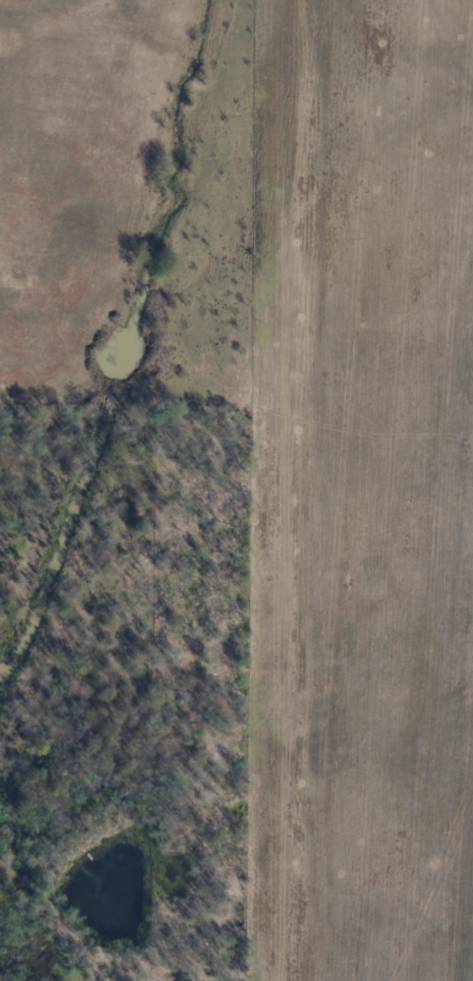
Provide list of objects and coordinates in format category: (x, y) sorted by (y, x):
airport runway: (299, 373)

